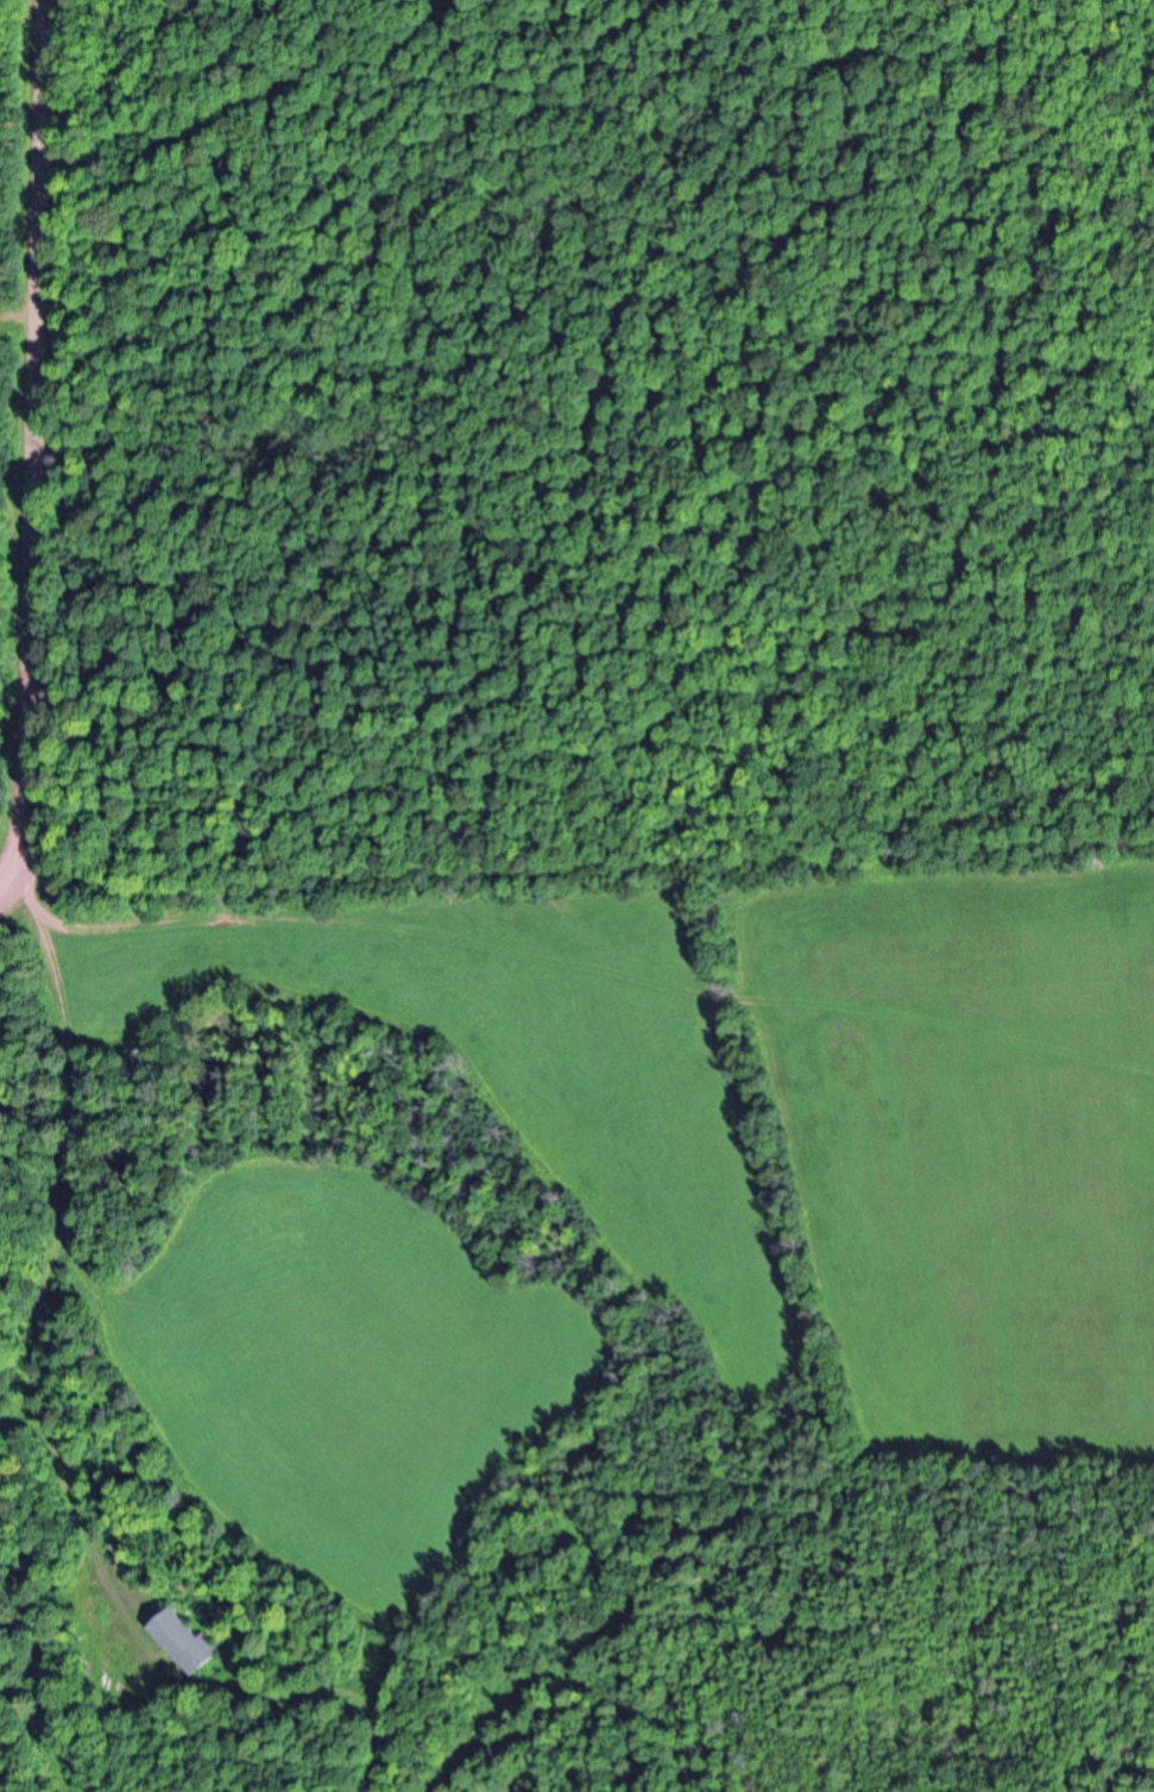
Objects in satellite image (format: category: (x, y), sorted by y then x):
road: (34, 423)
building: (189, 1642)

